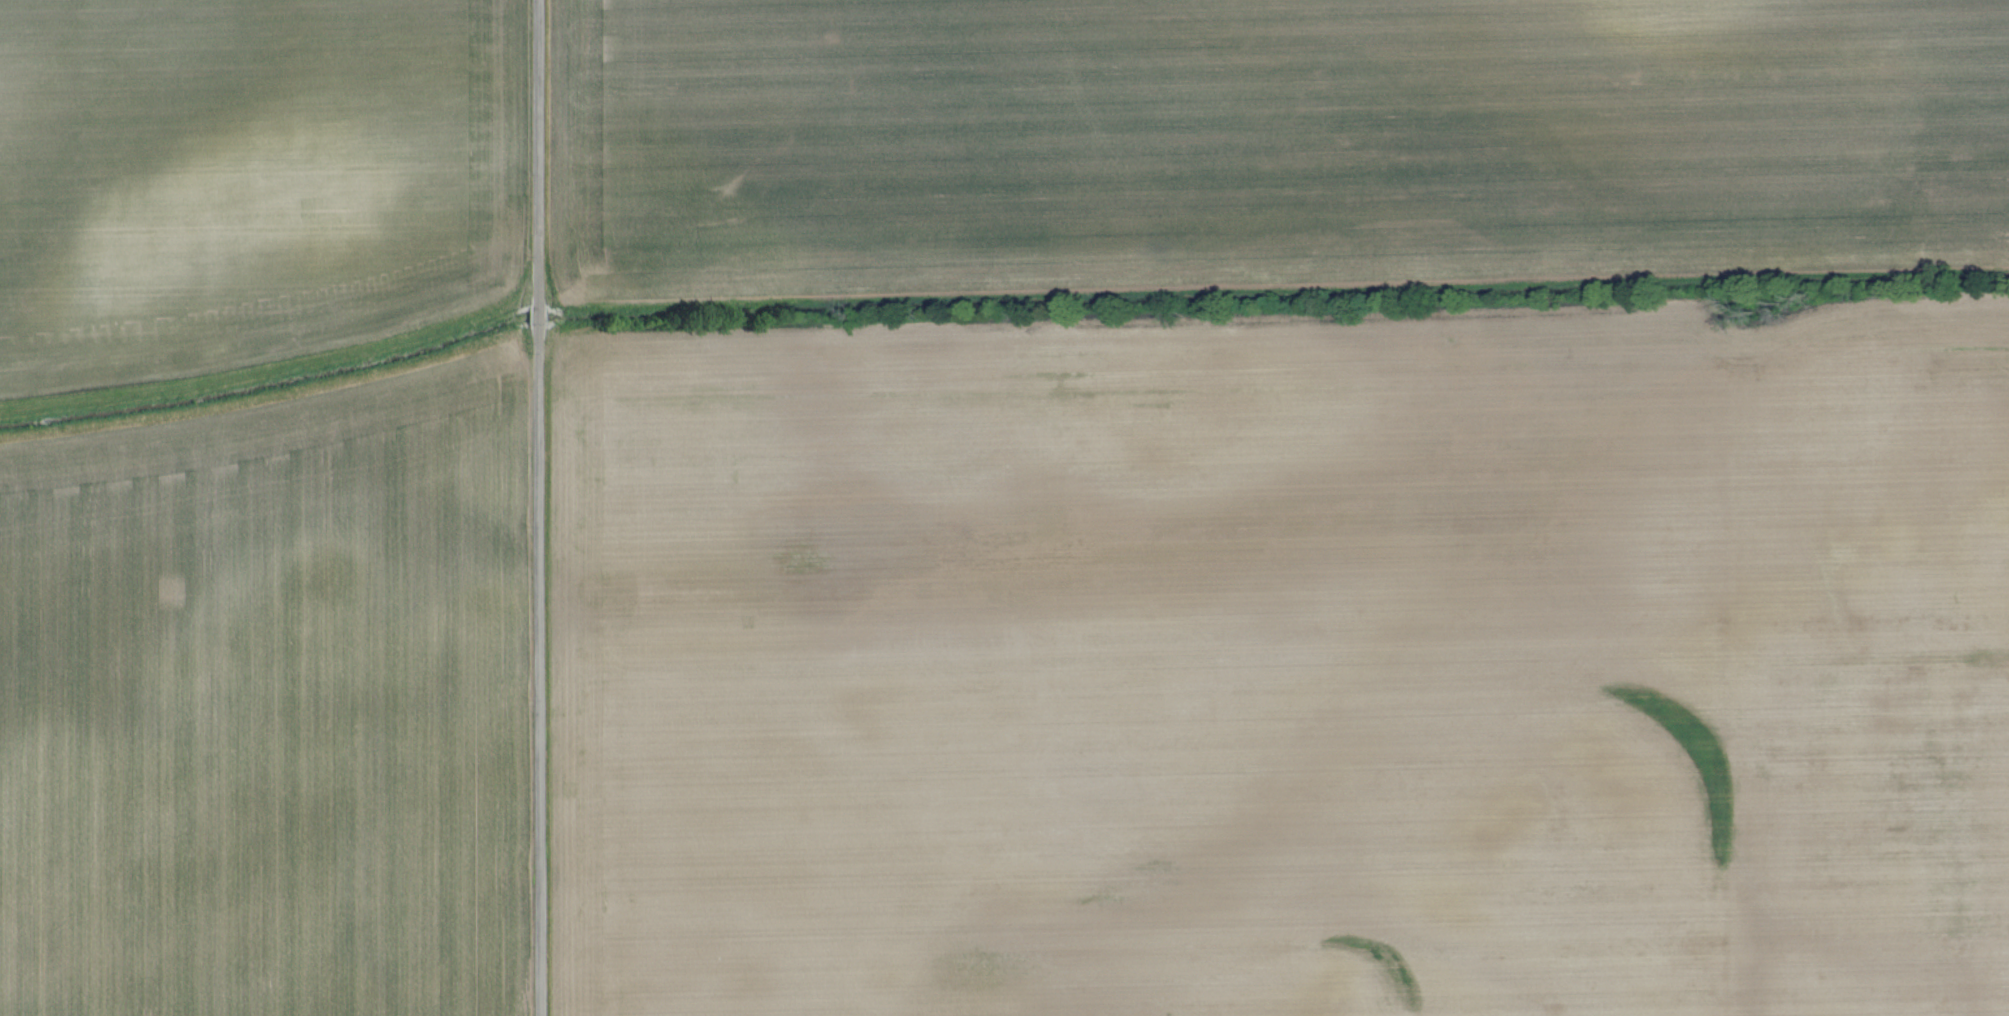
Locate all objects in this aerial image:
road: (539, 508)

